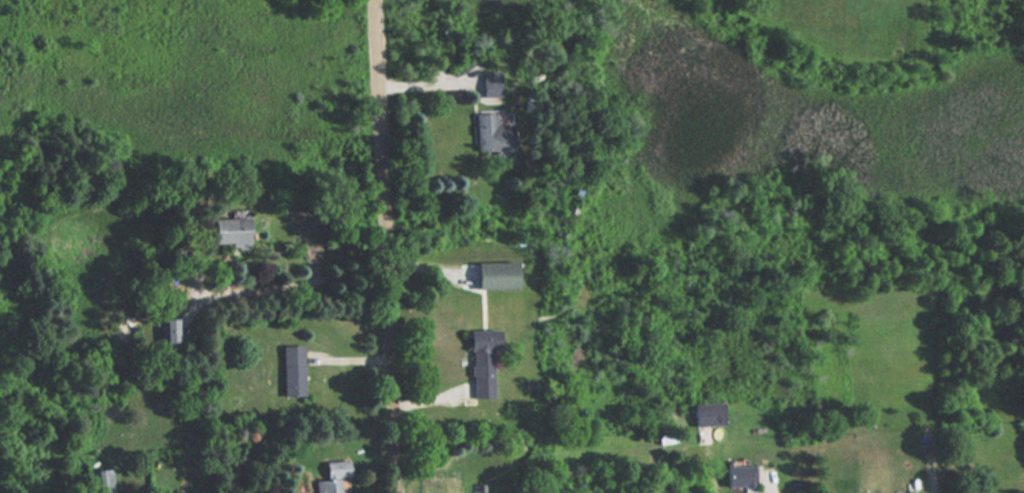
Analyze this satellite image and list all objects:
building: (492, 83)
road: (427, 86)
building: (492, 133)
building: (230, 230)
road: (383, 246)
building: (496, 275)
road: (300, 281)
building: (169, 332)
building: (482, 362)
building: (292, 371)
building: (708, 413)
building: (332, 476)
building: (740, 476)
building: (101, 481)
road: (767, 487)

